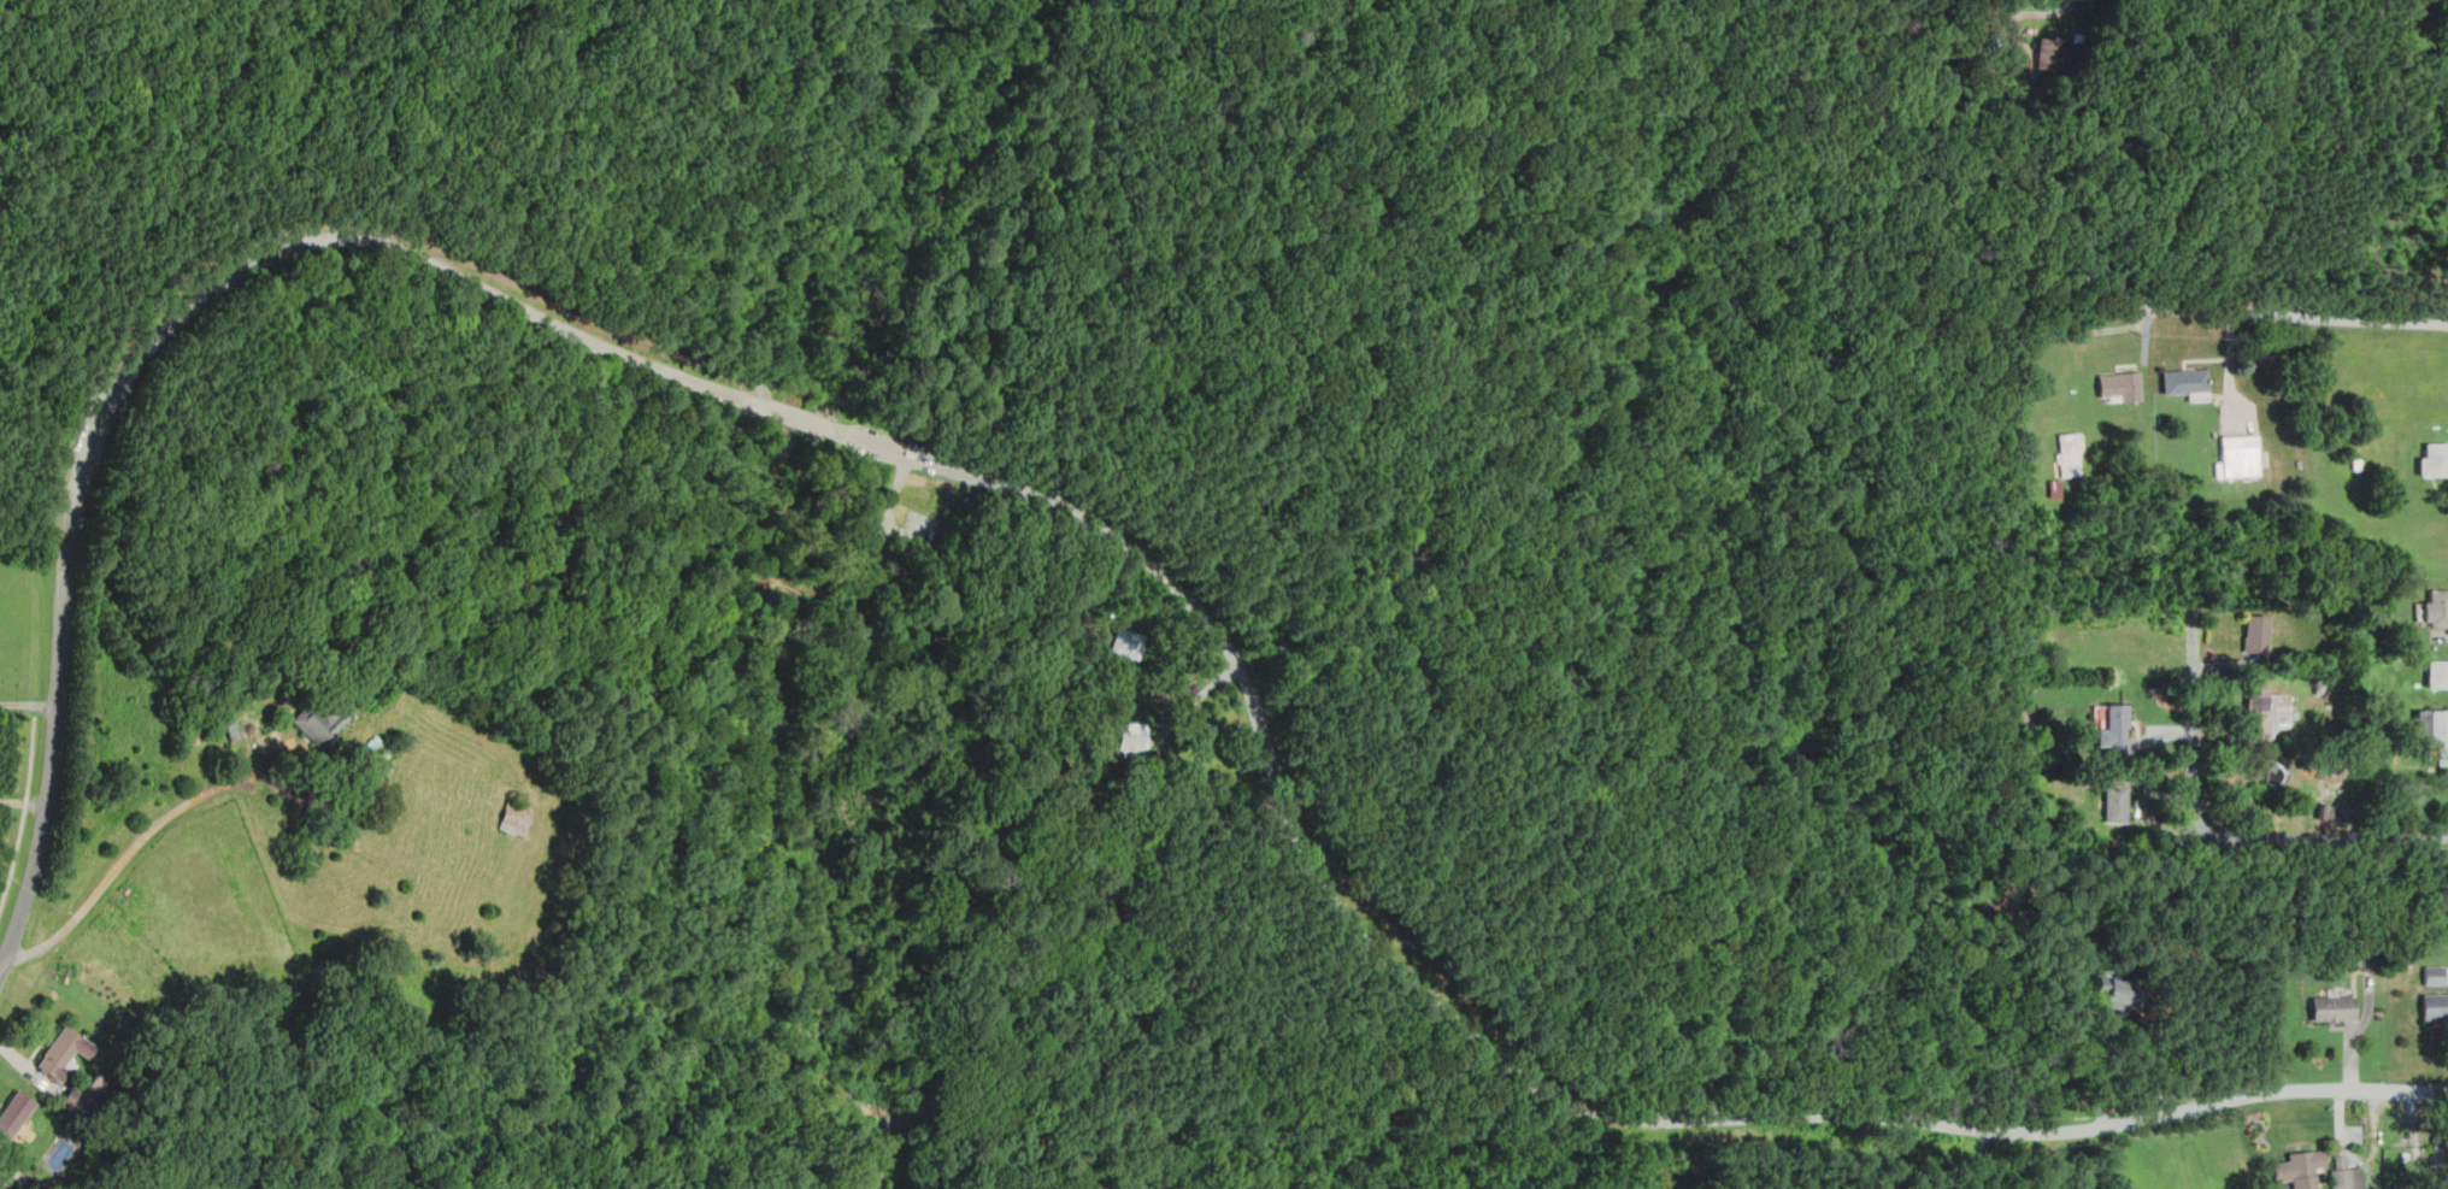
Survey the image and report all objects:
road: (1928, 16)
road: (2014, 17)
road: (2000, 24)
building: (2078, 35)
building: (2052, 54)
road: (2442, 69)
road: (2424, 136)
road: (414, 147)
road: (972, 211)
road: (134, 217)
road: (292, 249)
road: (2129, 301)
road: (2096, 330)
street lamp: (2138, 332)
road: (2229, 359)
parking lot: (123, 379)
building: (2188, 382)
building: (2119, 383)
road: (722, 390)
road: (802, 419)
road: (895, 451)
building: (2069, 453)
building: (2236, 457)
building: (2262, 457)
building: (2435, 459)
building: (2354, 463)
building: (2054, 489)
road: (895, 495)
street lamp: (936, 520)
building: (2437, 607)
building: (2254, 632)
building: (1129, 642)
building: (125, 653)
building: (2393, 654)
building: (2438, 673)
building: (2318, 684)
road: (1210, 689)
road: (28, 705)
building: (2262, 710)
road: (37, 712)
building: (322, 722)
building: (231, 728)
building: (2113, 729)
building: (2432, 730)
building: (1126, 736)
road: (814, 751)
road: (51, 776)
road: (23, 801)
building: (2114, 801)
building: (2324, 812)
road: (24, 819)
road: (2220, 835)
road: (120, 861)
road: (822, 943)
building: (2366, 958)
road: (805, 959)
building: (2349, 960)
building: (2432, 973)
building: (2124, 993)
building: (2435, 1003)
building: (2331, 1006)
road: (2075, 1052)
building: (64, 1054)
road: (28, 1066)
road: (783, 1082)
road: (885, 1087)
road: (1549, 1091)
road: (564, 1107)
building: (14, 1114)
building: (2440, 1148)
road: (1985, 1160)
road: (10, 1162)
park: (1826, 1165)
building: (2301, 1169)
building: (2, 1177)
building: (2346, 1178)

